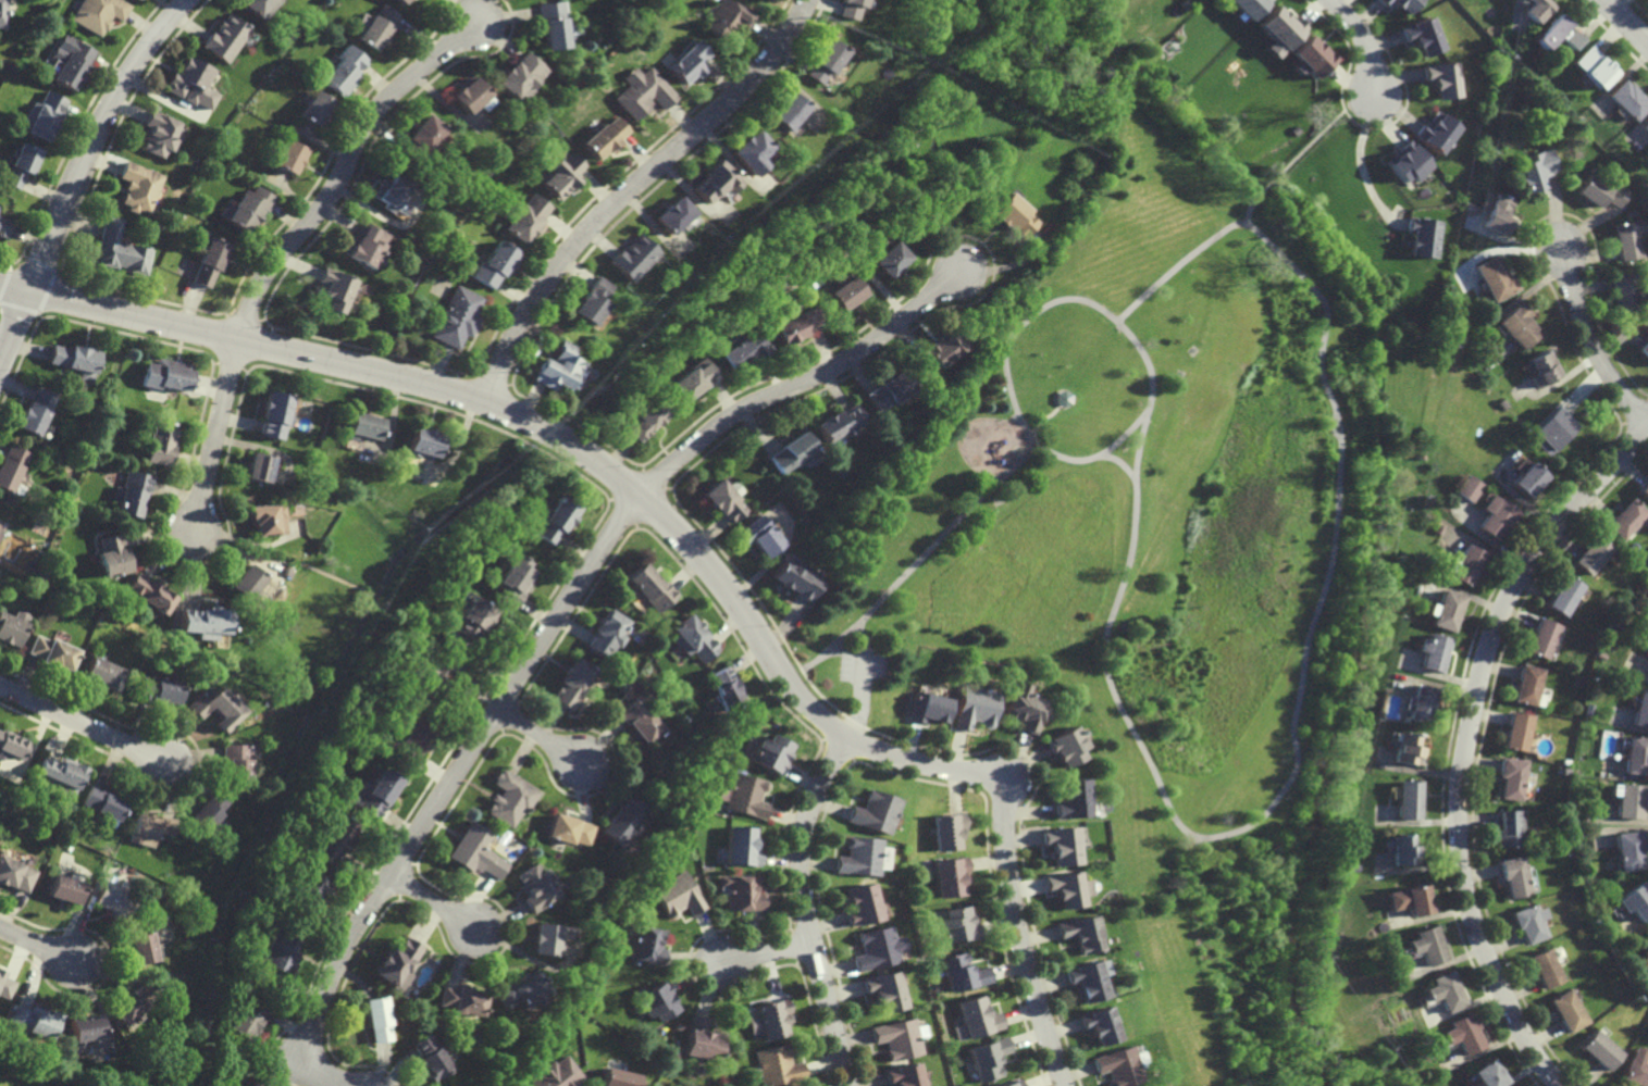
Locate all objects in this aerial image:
building: (138, 0)
building: (401, 1)
building: (1402, 4)
building: (259, 5)
building: (1246, 7)
building: (848, 9)
building: (1534, 10)
building: (3, 13)
building: (98, 14)
building: (726, 16)
road: (1626, 21)
building: (374, 25)
building: (552, 25)
building: (1276, 29)
building: (1557, 34)
building: (1423, 35)
building: (225, 38)
road: (1362, 40)
building: (1311, 55)
building: (72, 60)
building: (686, 60)
building: (823, 62)
building: (1593, 67)
building: (343, 71)
building: (520, 75)
building: (1442, 79)
building: (193, 85)
building: (644, 92)
building: (469, 93)
building: (1627, 100)
building: (315, 109)
road: (1370, 110)
building: (786, 111)
building: (45, 115)
road: (1352, 120)
building: (1645, 127)
building: (159, 133)
building: (424, 133)
building: (1437, 133)
building: (606, 137)
road: (1305, 148)
building: (753, 152)
building: (290, 157)
building: (1407, 162)
building: (23, 165)
building: (1536, 170)
road: (83, 173)
building: (562, 173)
road: (1365, 179)
building: (714, 182)
building: (139, 187)
road: (629, 188)
building: (1600, 190)
road: (1263, 191)
building: (392, 194)
building: (248, 208)
road: (1248, 209)
building: (672, 215)
building: (1497, 215)
building: (1014, 216)
building: (525, 217)
building: (3, 226)
building: (1422, 236)
building: (1627, 238)
building: (368, 246)
building: (120, 249)
road: (285, 249)
building: (631, 257)
building: (890, 260)
building: (209, 264)
building: (493, 265)
building: (1494, 276)
building: (331, 288)
building: (1624, 290)
building: (845, 291)
building: (591, 301)
building: (456, 317)
building: (793, 325)
building: (1517, 326)
road: (1122, 327)
road: (1590, 346)
building: (1644, 349)
building: (742, 350)
building: (939, 353)
building: (75, 360)
building: (1539, 367)
building: (556, 369)
building: (165, 374)
building: (689, 382)
building: (889, 389)
building: (35, 411)
building: (273, 414)
building: (645, 416)
building: (838, 424)
building: (361, 426)
building: (1552, 427)
building: (161, 441)
building: (420, 441)
building: (793, 452)
road: (1122, 462)
building: (11, 466)
building: (258, 467)
building: (1526, 479)
building: (1470, 488)
building: (1645, 490)
building: (132, 495)
building: (723, 499)
building: (1499, 517)
building: (265, 519)
building: (1625, 519)
building: (553, 520)
building: (760, 536)
road: (686, 538)
building: (1593, 554)
building: (111, 556)
road: (920, 557)
building: (1467, 564)
park: (1173, 566)
building: (794, 576)
building: (515, 578)
building: (245, 582)
building: (649, 586)
building: (148, 595)
building: (1565, 595)
building: (1447, 611)
building: (472, 617)
road: (553, 623)
building: (202, 624)
building: (10, 629)
building: (608, 634)
road: (858, 634)
building: (1544, 638)
building: (693, 639)
building: (1433, 651)
building: (51, 653)
building: (435, 669)
building: (1646, 672)
building: (102, 673)
building: (1528, 684)
building: (573, 685)
road: (1301, 688)
building: (158, 689)
building: (726, 689)
road: (859, 690)
building: (1420, 702)
building: (216, 708)
building: (925, 708)
building: (972, 708)
building: (1023, 708)
building: (1641, 710)
building: (641, 720)
road: (84, 723)
building: (1517, 732)
building: (411, 734)
road: (537, 735)
road: (1465, 740)
building: (11, 746)
building: (1064, 747)
building: (1408, 750)
building: (771, 753)
building: (1636, 756)
building: (235, 758)
building: (61, 775)
building: (1512, 777)
building: (375, 791)
building: (744, 794)
building: (510, 799)
building: (1069, 799)
building: (1407, 799)
building: (1631, 801)
building: (102, 802)
building: (875, 811)
building: (207, 812)
building: (622, 820)
building: (149, 827)
building: (1511, 828)
building: (569, 831)
building: (945, 831)
building: (332, 840)
building: (1060, 845)
building: (741, 846)
building: (1404, 849)
building: (1628, 849)
building: (474, 851)
building: (857, 856)
building: (15, 874)
building: (949, 875)
building: (1515, 875)
building: (535, 885)
building: (311, 886)
building: (64, 887)
building: (1068, 889)
building: (742, 892)
building: (678, 895)
building: (112, 899)
road: (432, 900)
building: (1410, 900)
building: (1634, 901)
building: (859, 904)
road: (805, 909)
building: (1531, 922)
building: (955, 923)
building: (1081, 934)
building: (548, 937)
road: (38, 943)
building: (1647, 943)
building: (1427, 945)
building: (648, 946)
building: (139, 947)
building: (875, 949)
building: (276, 951)
road: (766, 952)
building: (399, 963)
building: (1545, 968)
building: (961, 972)
building: (1087, 981)
building: (5, 985)
building: (882, 990)
building: (1445, 990)
building: (524, 991)
building: (462, 999)
building: (657, 1001)
building: (127, 1006)
building: (1568, 1010)
building: (974, 1016)
building: (376, 1019)
building: (771, 1019)
building: (34, 1020)
building: (240, 1025)
building: (1100, 1026)
building: (84, 1027)
building: (1463, 1035)
building: (895, 1038)
building: (704, 1040)
building: (1601, 1050)
building: (430, 1058)
building: (988, 1059)
building: (775, 1065)
building: (1120, 1066)
building: (1636, 1068)
building: (558, 1074)
building: (1488, 1074)
building: (901, 1075)
building: (617, 1077)
building: (243, 1079)
building: (1013, 1084)

